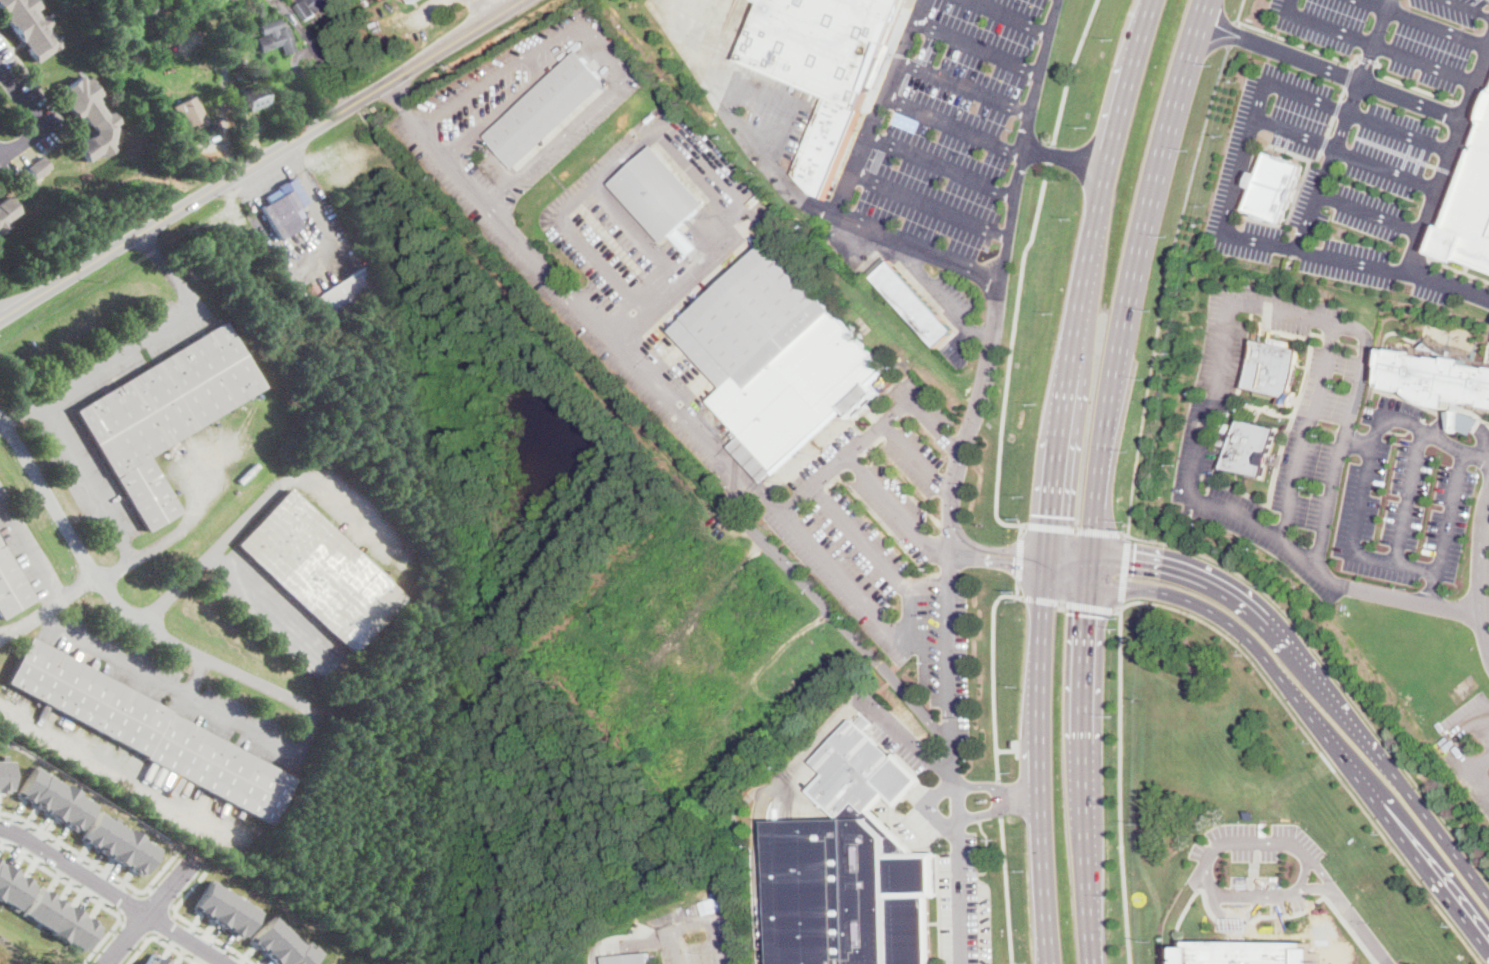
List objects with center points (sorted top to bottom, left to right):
building: (411, 1)
building: (314, 7)
building: (147, 8)
road: (1203, 9)
road: (1464, 9)
road: (1240, 10)
road: (1010, 16)
road: (1424, 24)
road: (581, 25)
building: (28, 27)
road: (1231, 30)
parking lot: (1403, 35)
building: (275, 37)
road: (1294, 41)
road: (979, 44)
road: (1375, 44)
road: (1353, 56)
road: (1367, 57)
building: (823, 68)
road: (1331, 70)
road: (1070, 71)
road: (1040, 73)
road: (1347, 74)
road: (966, 84)
road: (1127, 84)
road: (1409, 84)
building: (174, 86)
building: (800, 90)
parking lot: (490, 91)
road: (1341, 92)
building: (809, 94)
building: (245, 95)
road: (775, 97)
building: (256, 98)
road: (403, 103)
building: (0, 105)
building: (546, 109)
road: (33, 113)
building: (190, 113)
building: (649, 116)
building: (90, 118)
road: (578, 119)
road: (220, 122)
road: (742, 122)
road: (953, 122)
road: (1341, 124)
parking lot: (955, 125)
parking lot: (573, 132)
road: (630, 148)
road: (1243, 150)
road: (1345, 152)
road: (1050, 155)
road: (1064, 157)
road: (260, 158)
road: (940, 166)
building: (39, 168)
road: (1103, 180)
road: (1154, 183)
building: (1274, 188)
road: (845, 189)
building: (658, 194)
road: (314, 202)
road: (1433, 202)
road: (929, 203)
building: (1470, 207)
building: (284, 209)
building: (6, 212)
road: (1369, 213)
road: (582, 244)
parking lot: (850, 249)
road: (1086, 264)
road: (166, 268)
road: (1458, 269)
road: (1166, 286)
building: (299, 288)
road: (939, 292)
parking lot: (954, 293)
building: (340, 294)
building: (913, 304)
parking lot: (624, 305)
parking lot: (1275, 308)
road: (593, 325)
road: (119, 353)
building: (778, 360)
road: (1010, 361)
building: (1262, 369)
building: (1435, 376)
building: (251, 380)
parking lot: (1321, 384)
road: (979, 396)
parking lot: (1205, 398)
road: (1107, 408)
road: (21, 412)
road: (1384, 413)
building: (162, 415)
road: (1469, 420)
building: (1222, 428)
parking lot: (60, 433)
road: (1456, 446)
building: (1248, 448)
road: (1056, 449)
road: (919, 458)
road: (304, 476)
road: (1188, 494)
road: (100, 497)
parking lot: (1401, 502)
road: (1094, 506)
road: (896, 508)
parking lot: (1286, 508)
road: (190, 513)
traffic signals: (1049, 515)
road: (1360, 515)
road: (1323, 522)
road: (1078, 529)
road: (1484, 530)
road: (1446, 531)
parking lot: (894, 540)
road: (24, 544)
parking lot: (24, 546)
traffic signals: (1135, 549)
road: (1068, 553)
road: (1089, 554)
road: (1020, 559)
traffic signals: (1014, 560)
road: (832, 565)
road: (1124, 570)
building: (320, 571)
road: (1066, 571)
road: (1087, 572)
road: (1483, 572)
road: (235, 574)
road: (1477, 574)
building: (11, 587)
road: (69, 589)
road: (1018, 591)
road: (1385, 593)
road: (118, 602)
road: (1070, 604)
road: (1455, 606)
road: (1484, 607)
parking lot: (275, 613)
traffic signals: (1085, 614)
road: (24, 624)
road: (852, 634)
road: (1487, 646)
road: (127, 660)
road: (949, 670)
road: (1332, 672)
road: (993, 675)
road: (1320, 677)
parking lot: (175, 688)
road: (236, 718)
road: (1316, 725)
building: (150, 731)
road: (1455, 743)
parking lot: (1469, 745)
road: (1318, 748)
road: (1007, 751)
road: (796, 761)
road: (1039, 763)
road: (1482, 763)
road: (125, 771)
road: (1083, 772)
building: (4, 775)
road: (1119, 785)
road: (997, 786)
building: (54, 797)
road: (1001, 799)
road: (998, 811)
parking lot: (1257, 842)
building: (118, 843)
road: (1203, 858)
road: (95, 863)
building: (851, 866)
road: (1303, 873)
road: (958, 877)
building: (12, 887)
road: (1007, 890)
road: (114, 893)
parking lot: (1270, 893)
road: (86, 894)
road: (160, 897)
road: (126, 901)
parking lot: (965, 908)
building: (225, 909)
road: (147, 911)
road: (1232, 915)
building: (60, 919)
road: (1255, 919)
road: (699, 920)
road: (166, 923)
road: (191, 924)
road: (1359, 924)
road: (131, 928)
parking lot: (697, 933)
road: (146, 939)
building: (282, 944)
building: (1251, 946)
road: (141, 947)
road: (177, 950)
building: (628, 959)
building: (154, 960)

